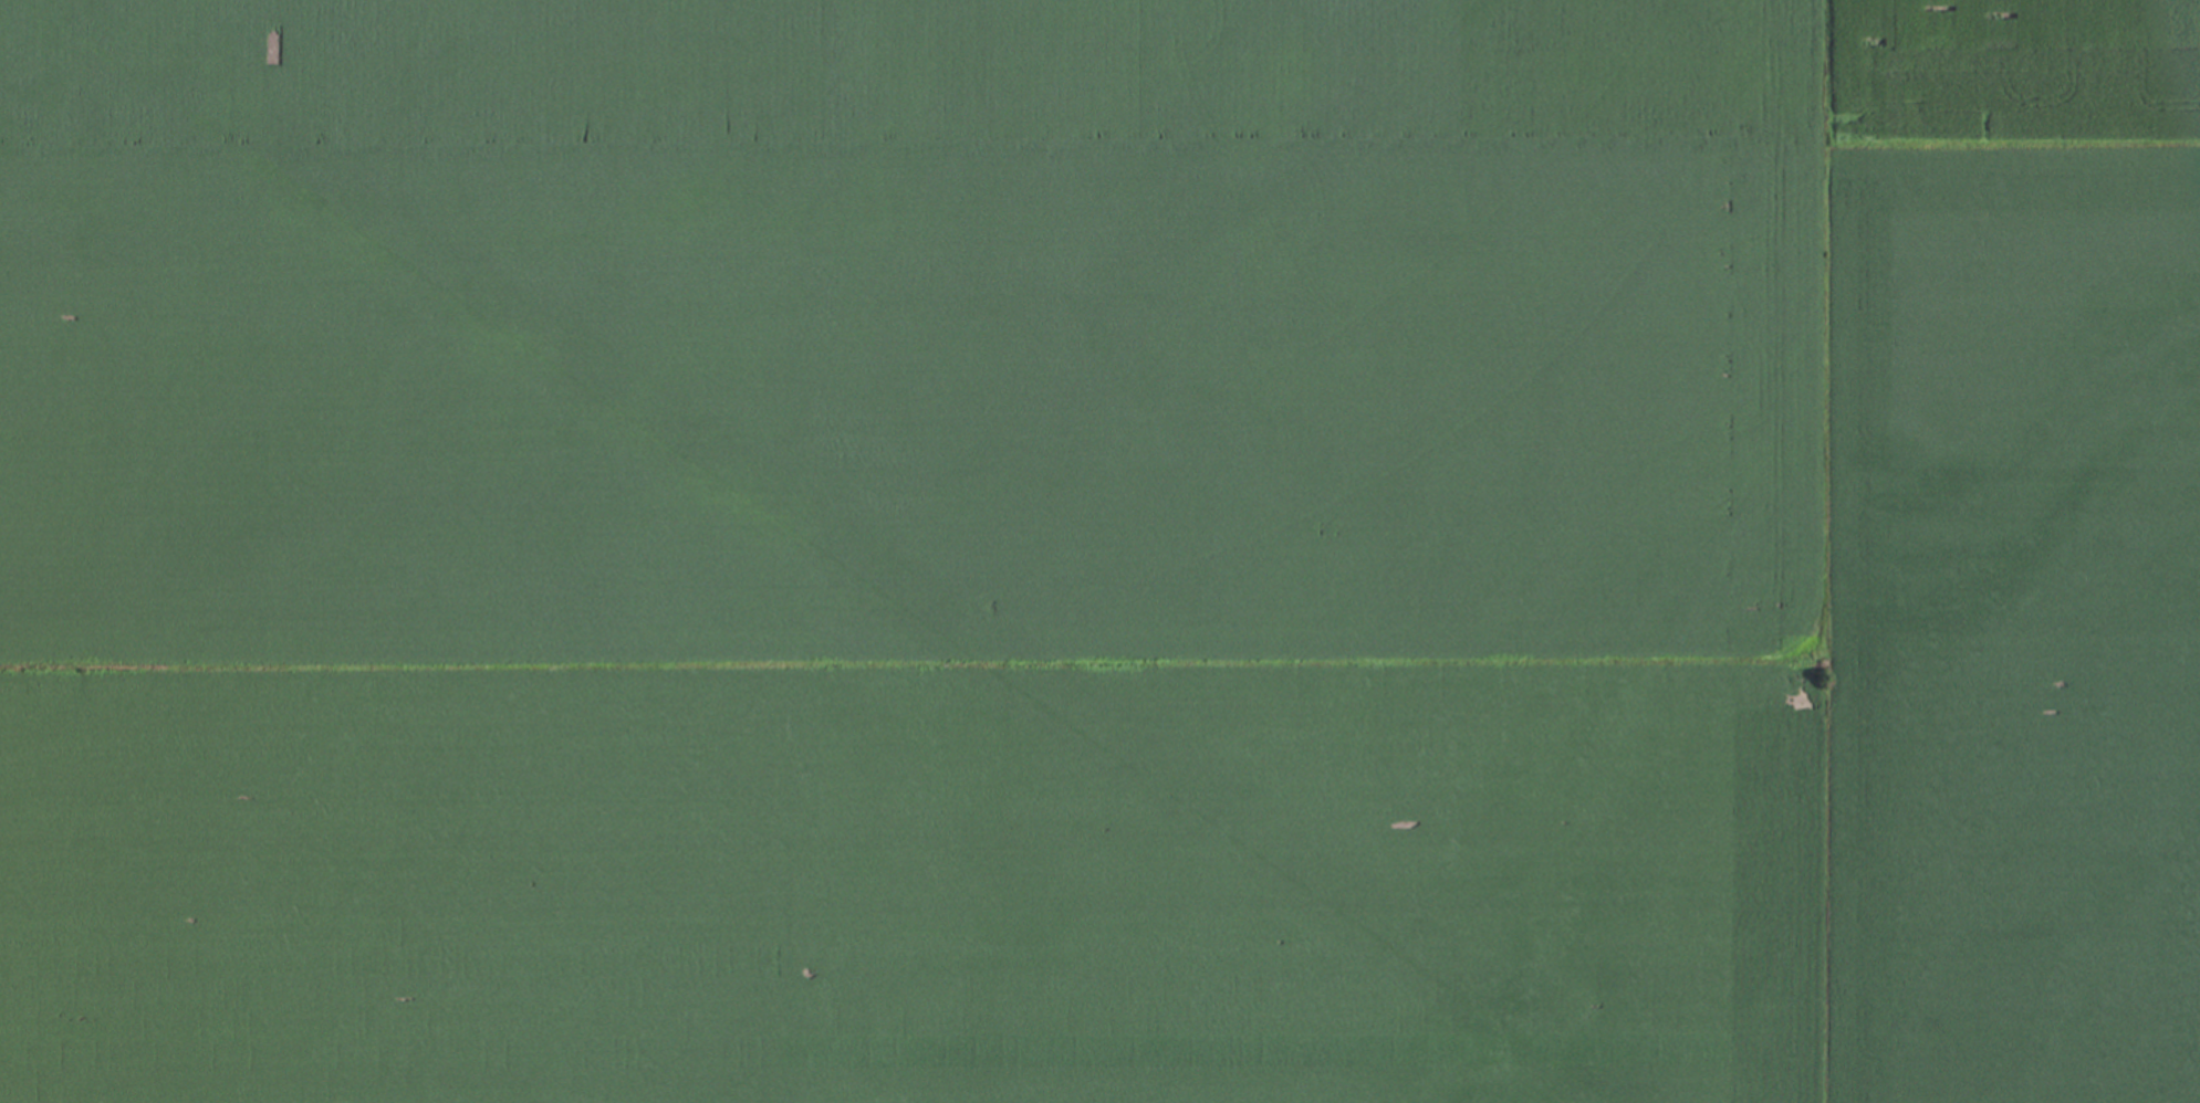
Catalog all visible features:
crop: (2008, 63)
crop: (900, 64)
crop: (911, 400)
crop: (2011, 611)
crop: (913, 886)

